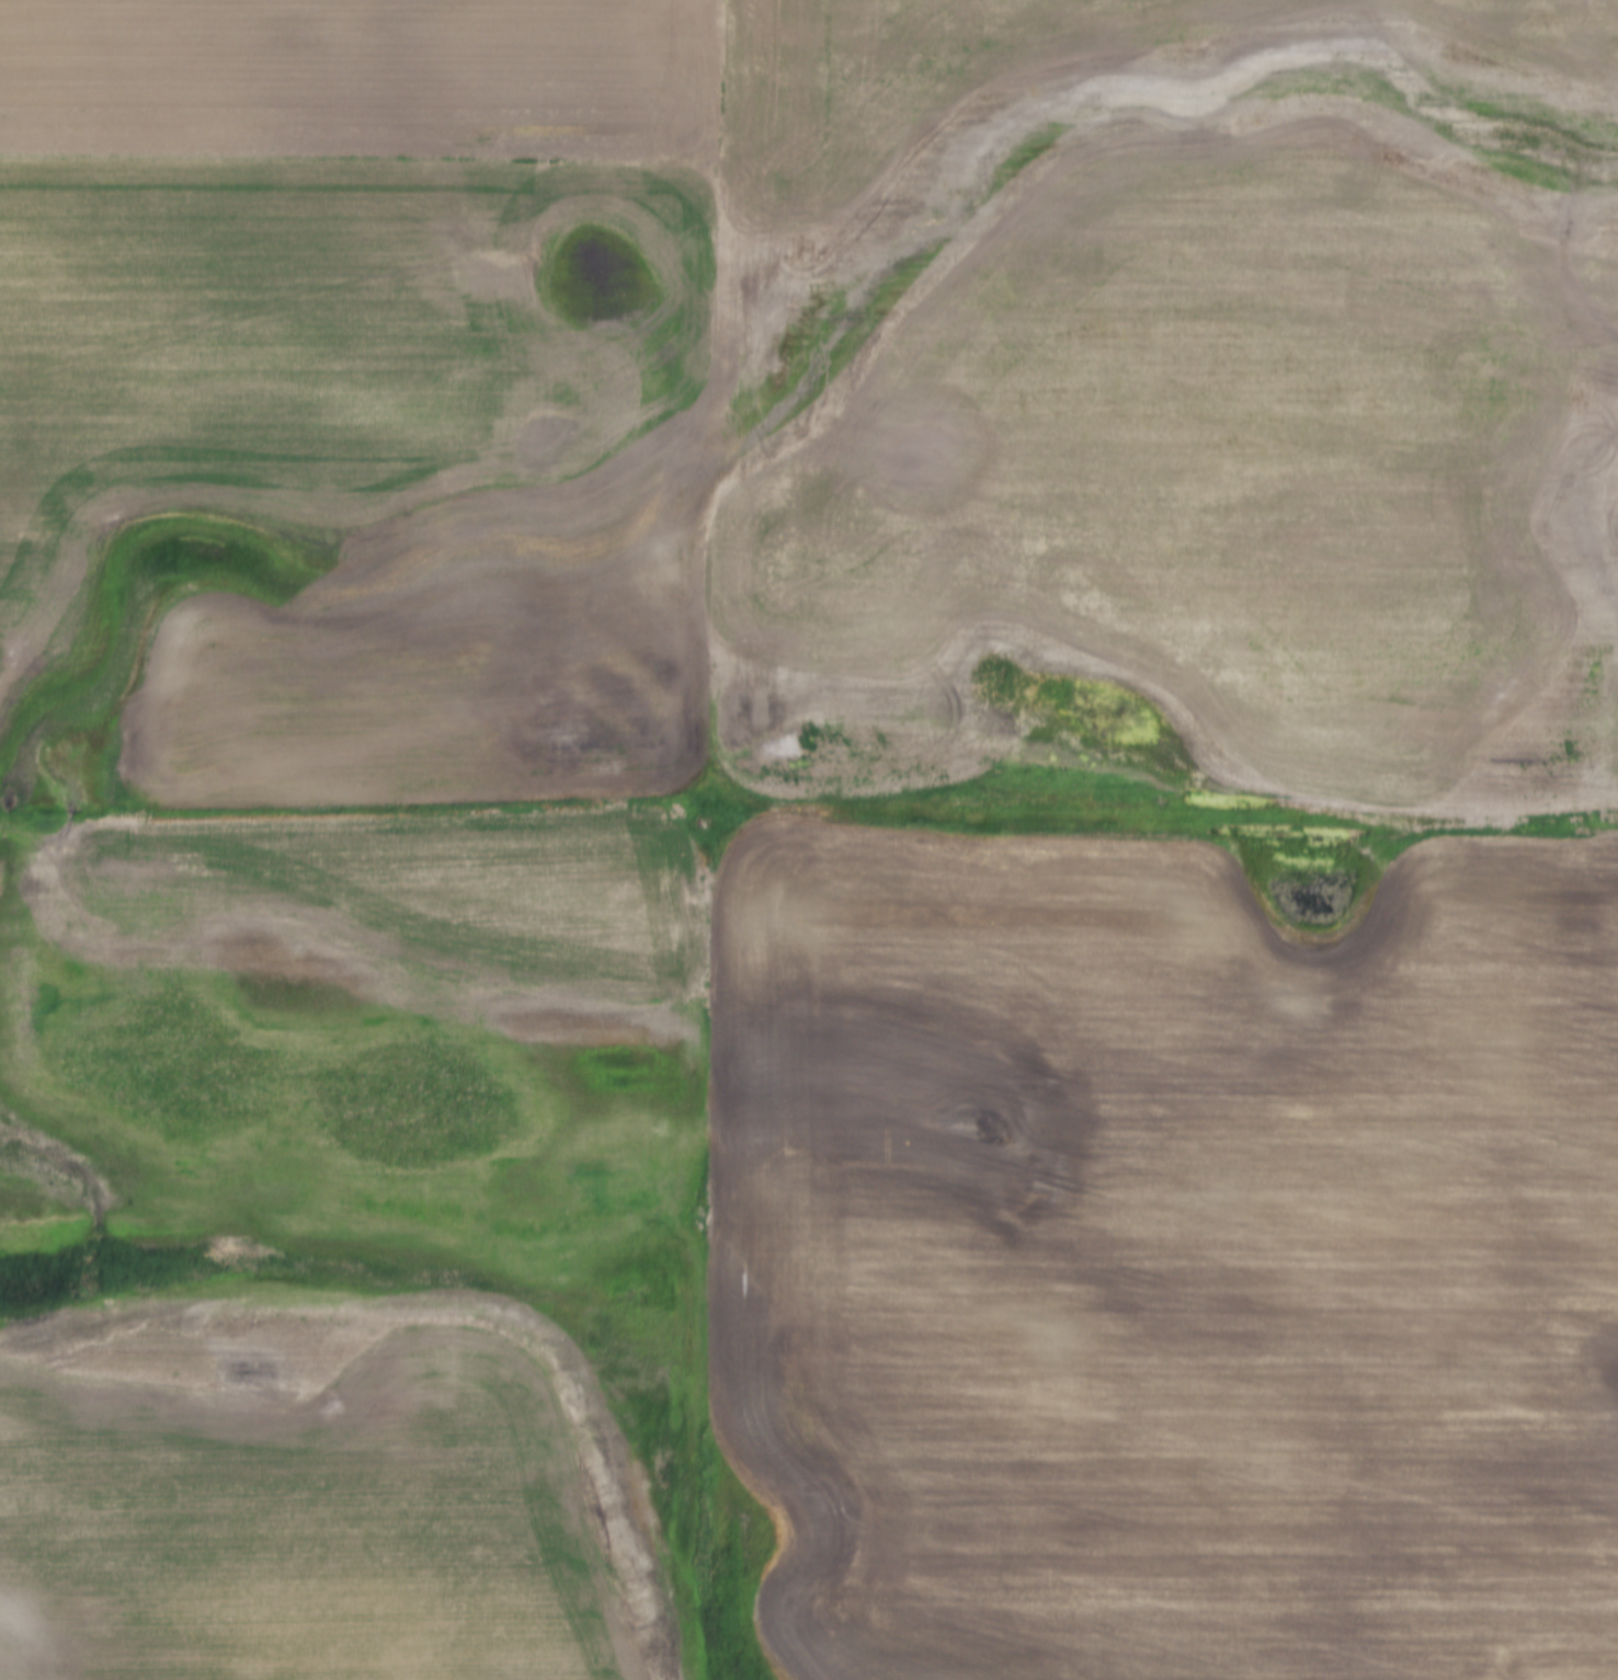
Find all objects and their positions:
road: (808, 807)

